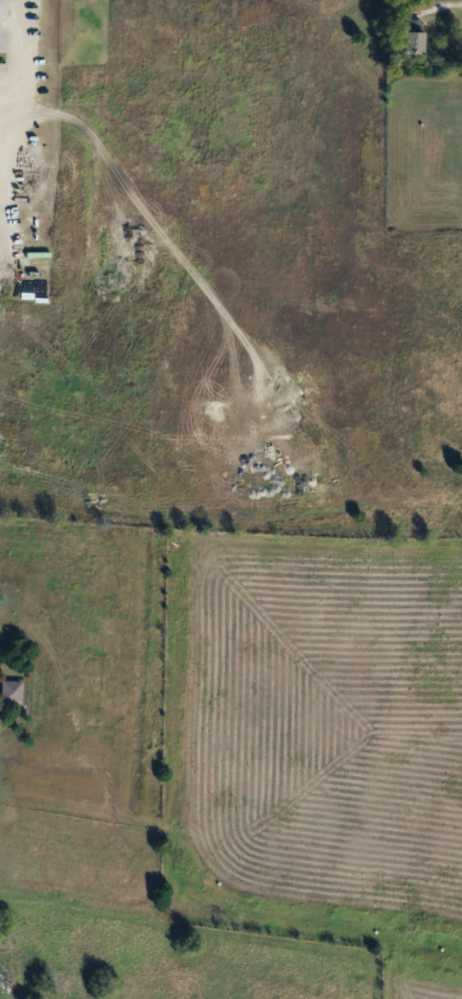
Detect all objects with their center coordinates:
road: (13, 6)
road: (446, 9)
building: (418, 37)
road: (22, 148)
building: (13, 691)
building: (5, 982)

